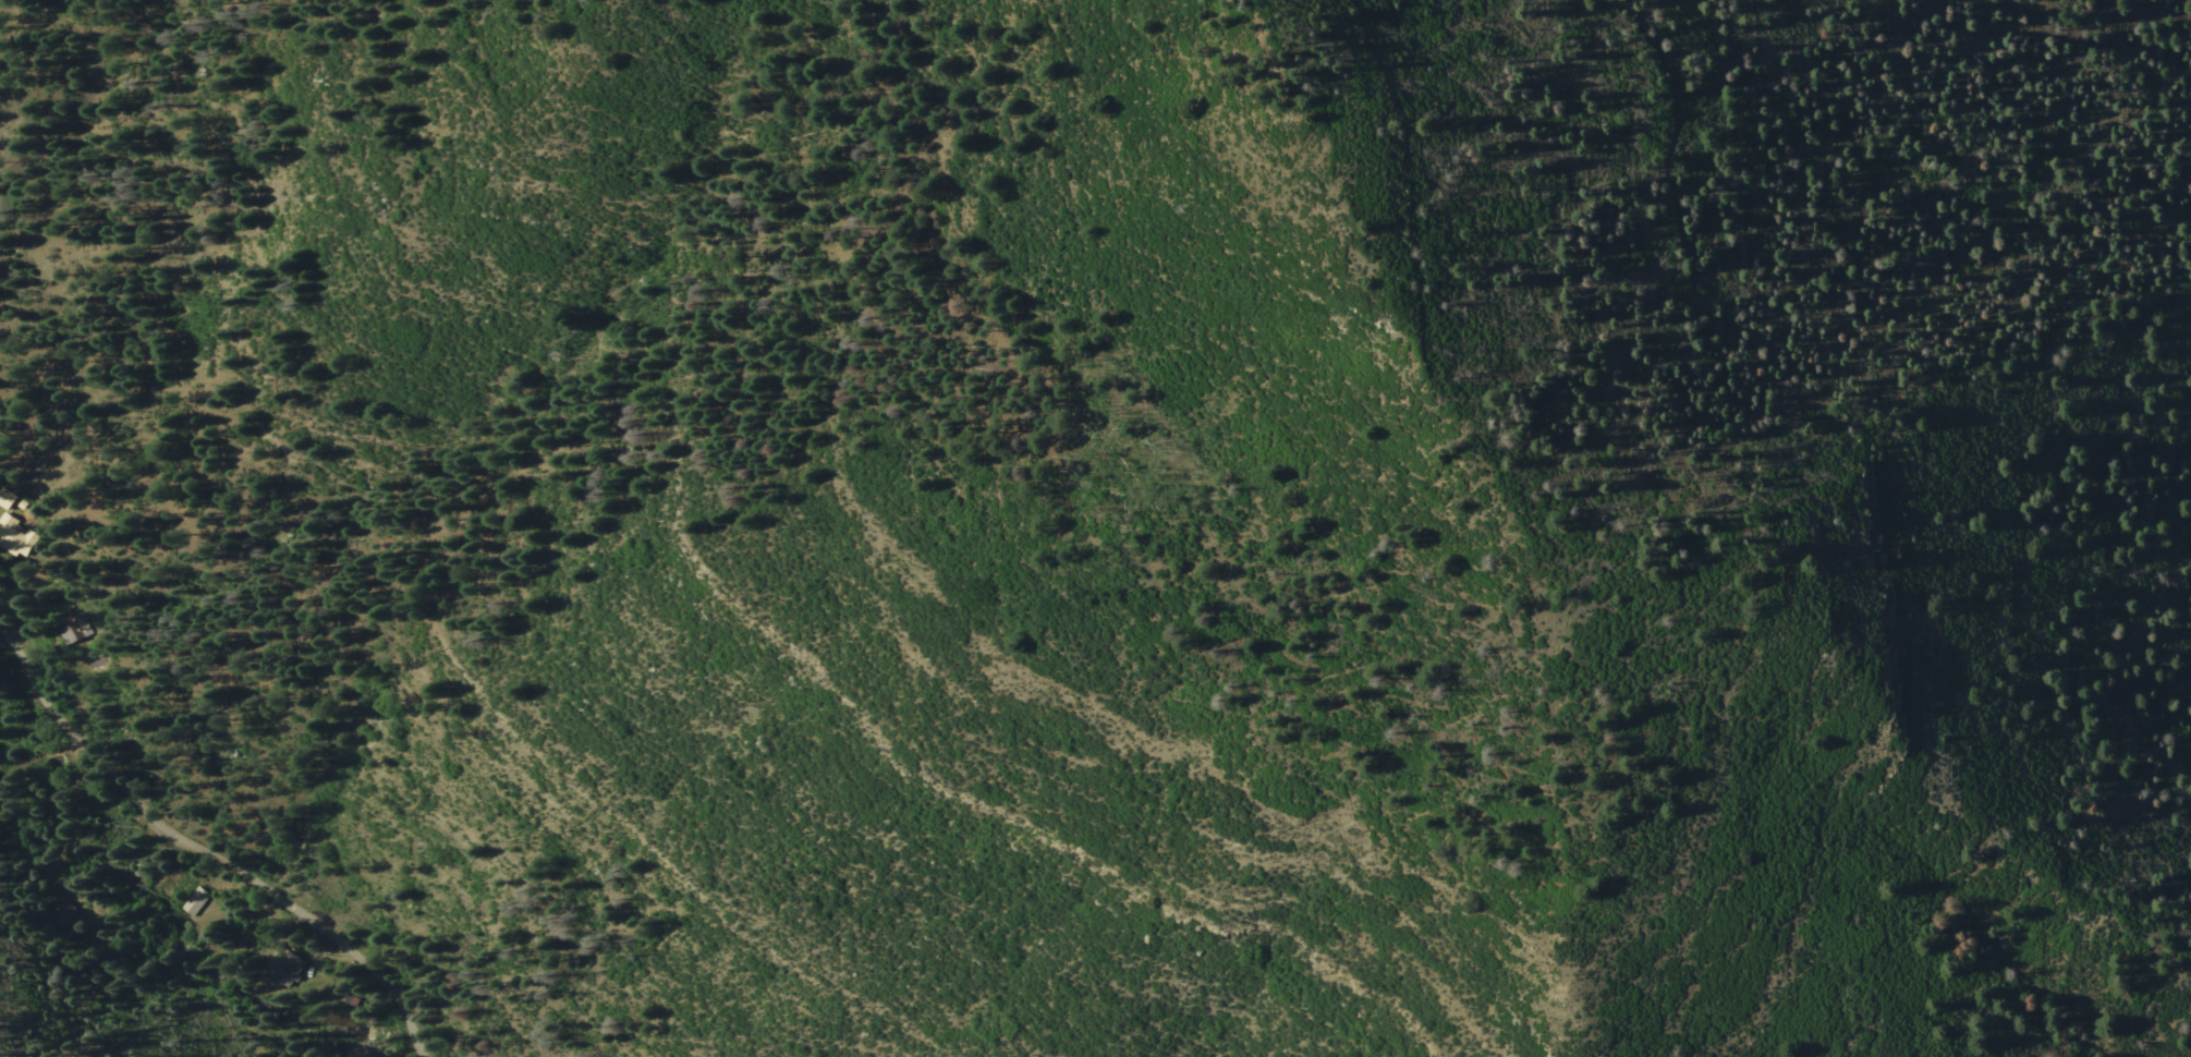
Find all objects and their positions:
building: (15, 535)
building: (74, 631)
road: (208, 847)
building: (196, 899)

